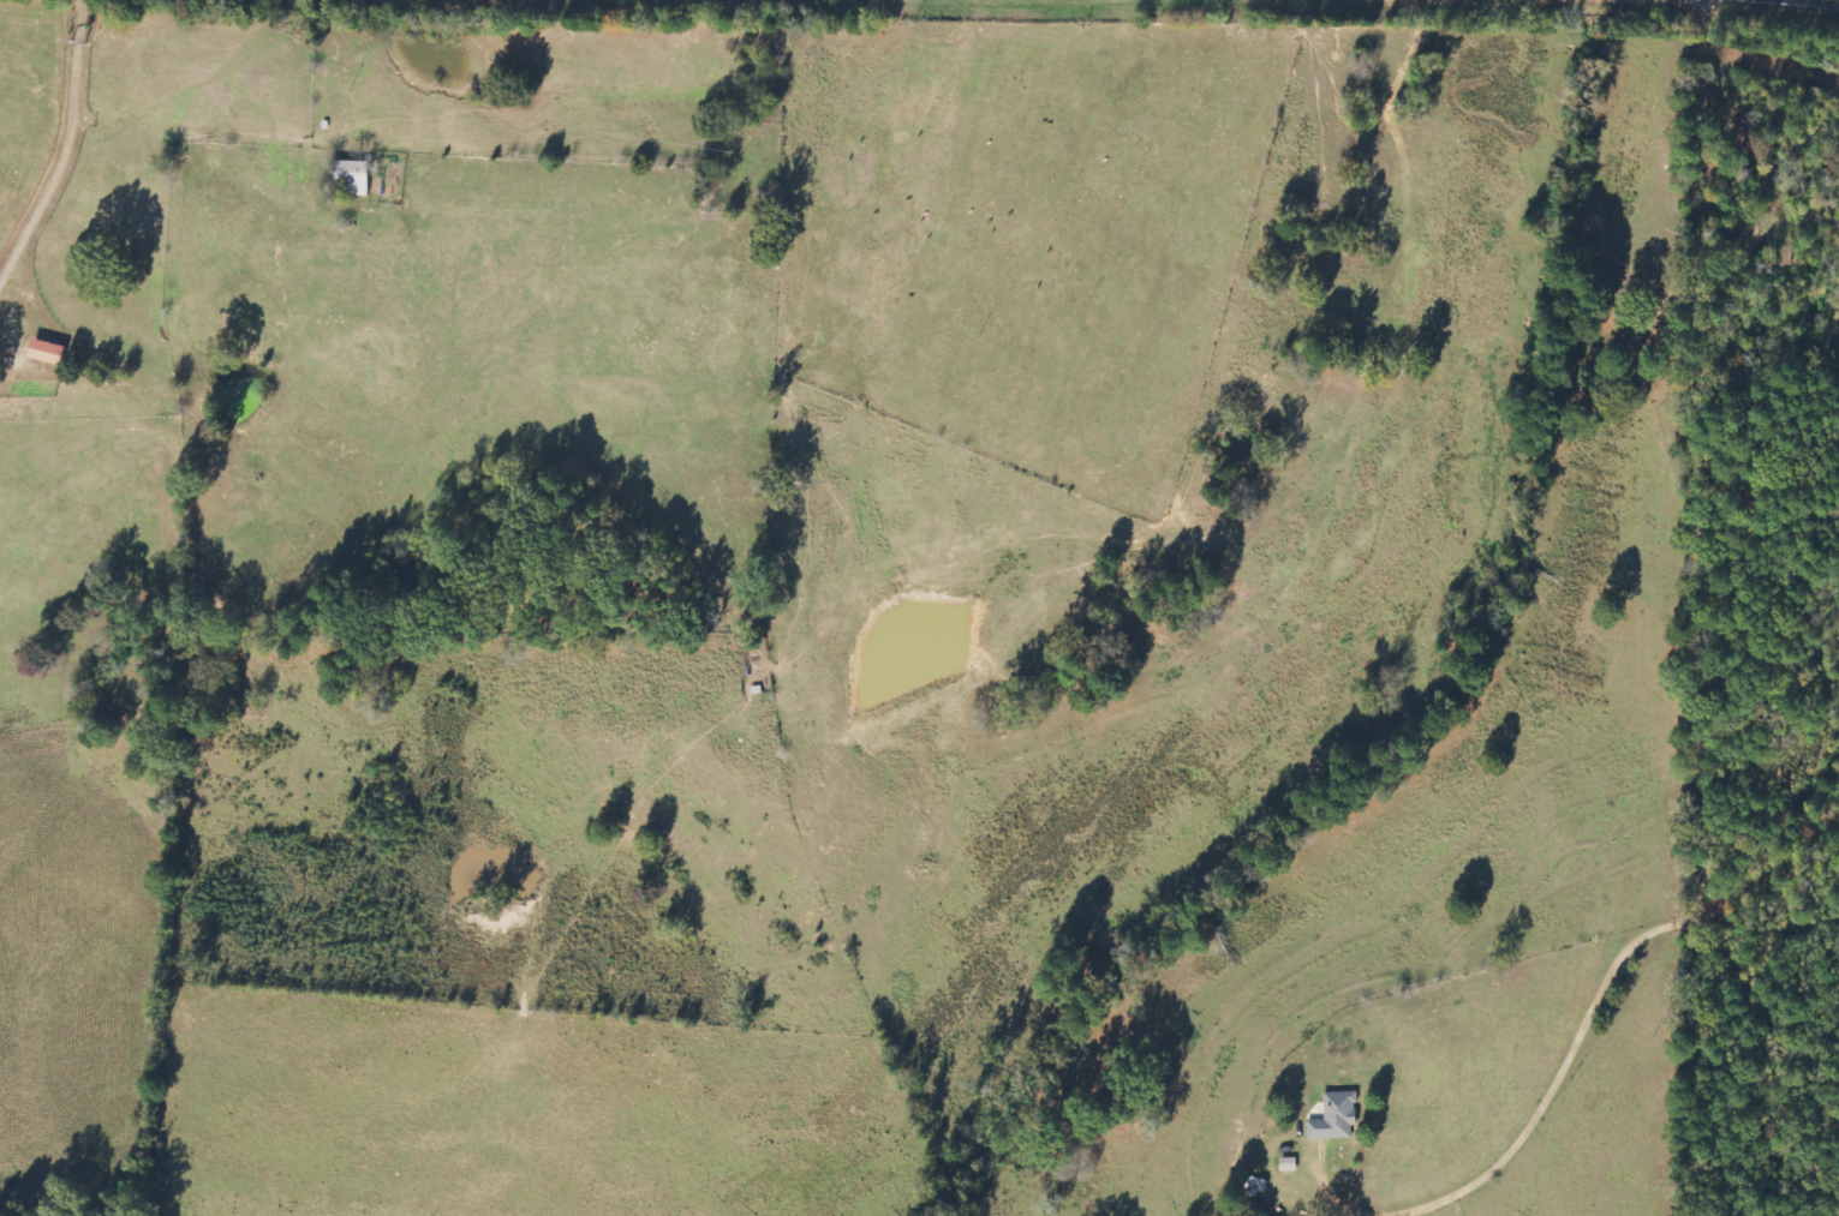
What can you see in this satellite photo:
road: (1834, 0)
road: (67, 145)
building: (348, 176)
building: (41, 352)
road: (1702, 607)
road: (1558, 1098)
building: (1332, 1118)
building: (1285, 1164)

